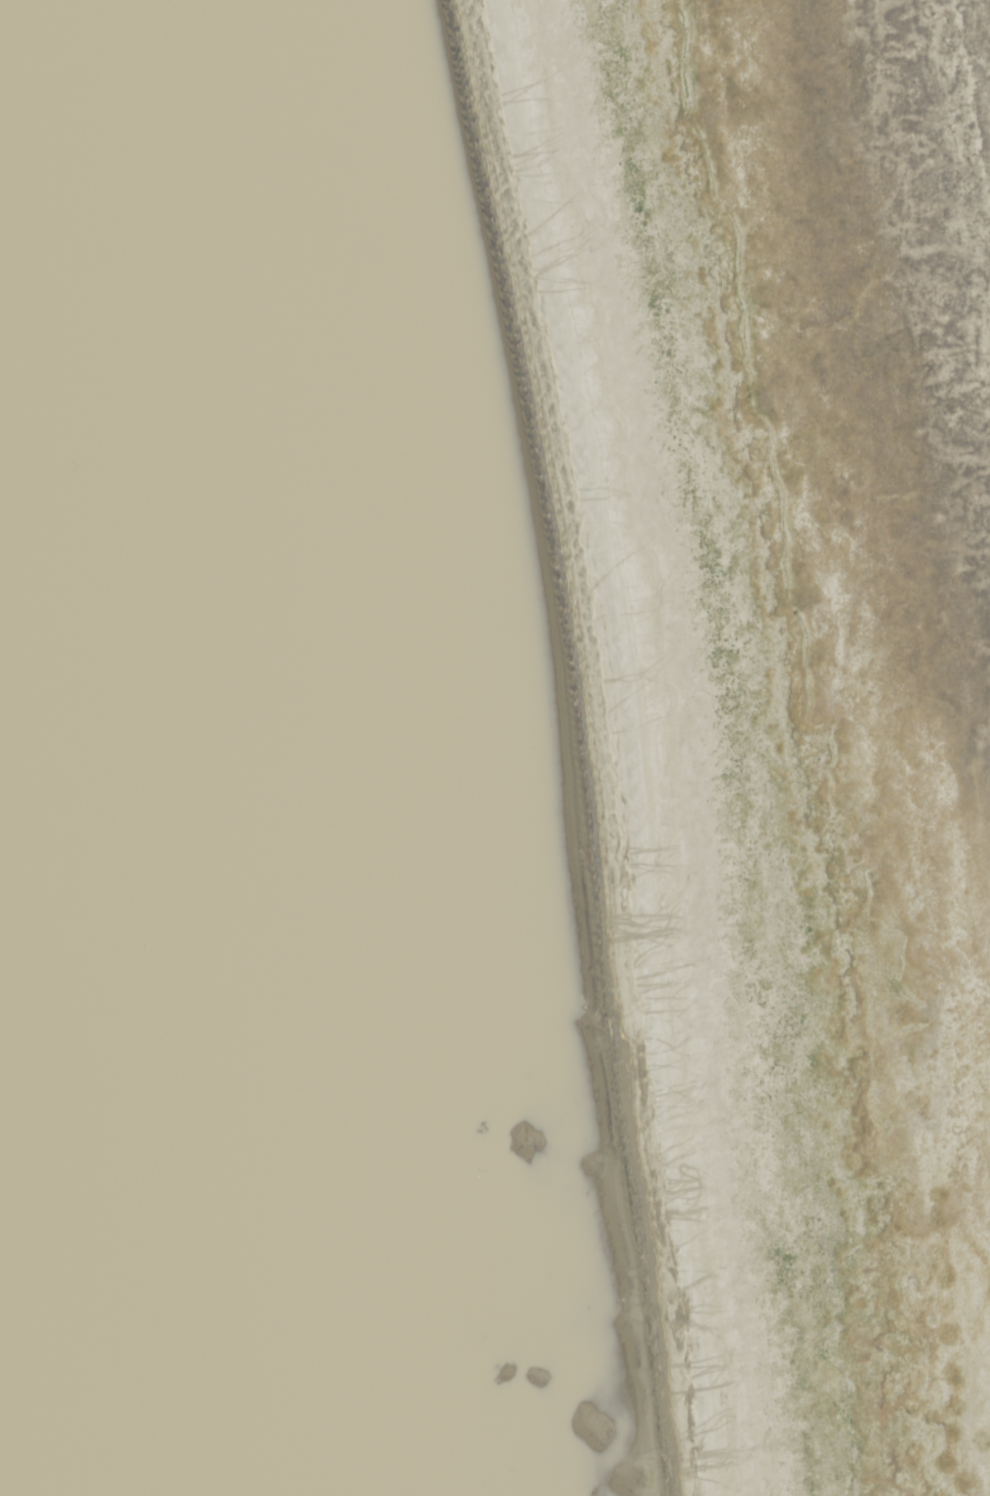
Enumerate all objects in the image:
road: (816, 747)

